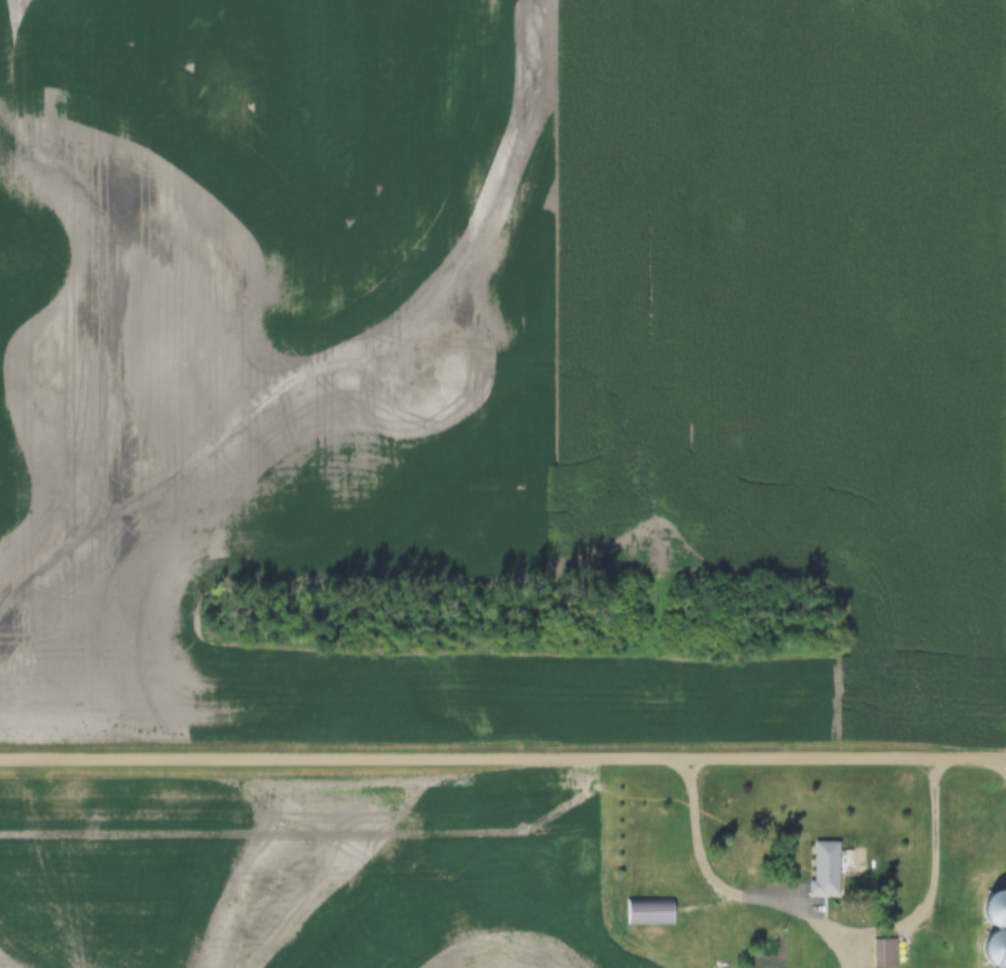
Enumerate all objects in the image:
road: (503, 759)
road: (697, 835)
building: (827, 870)
road: (777, 899)
building: (651, 912)
road: (835, 941)
building: (886, 953)

